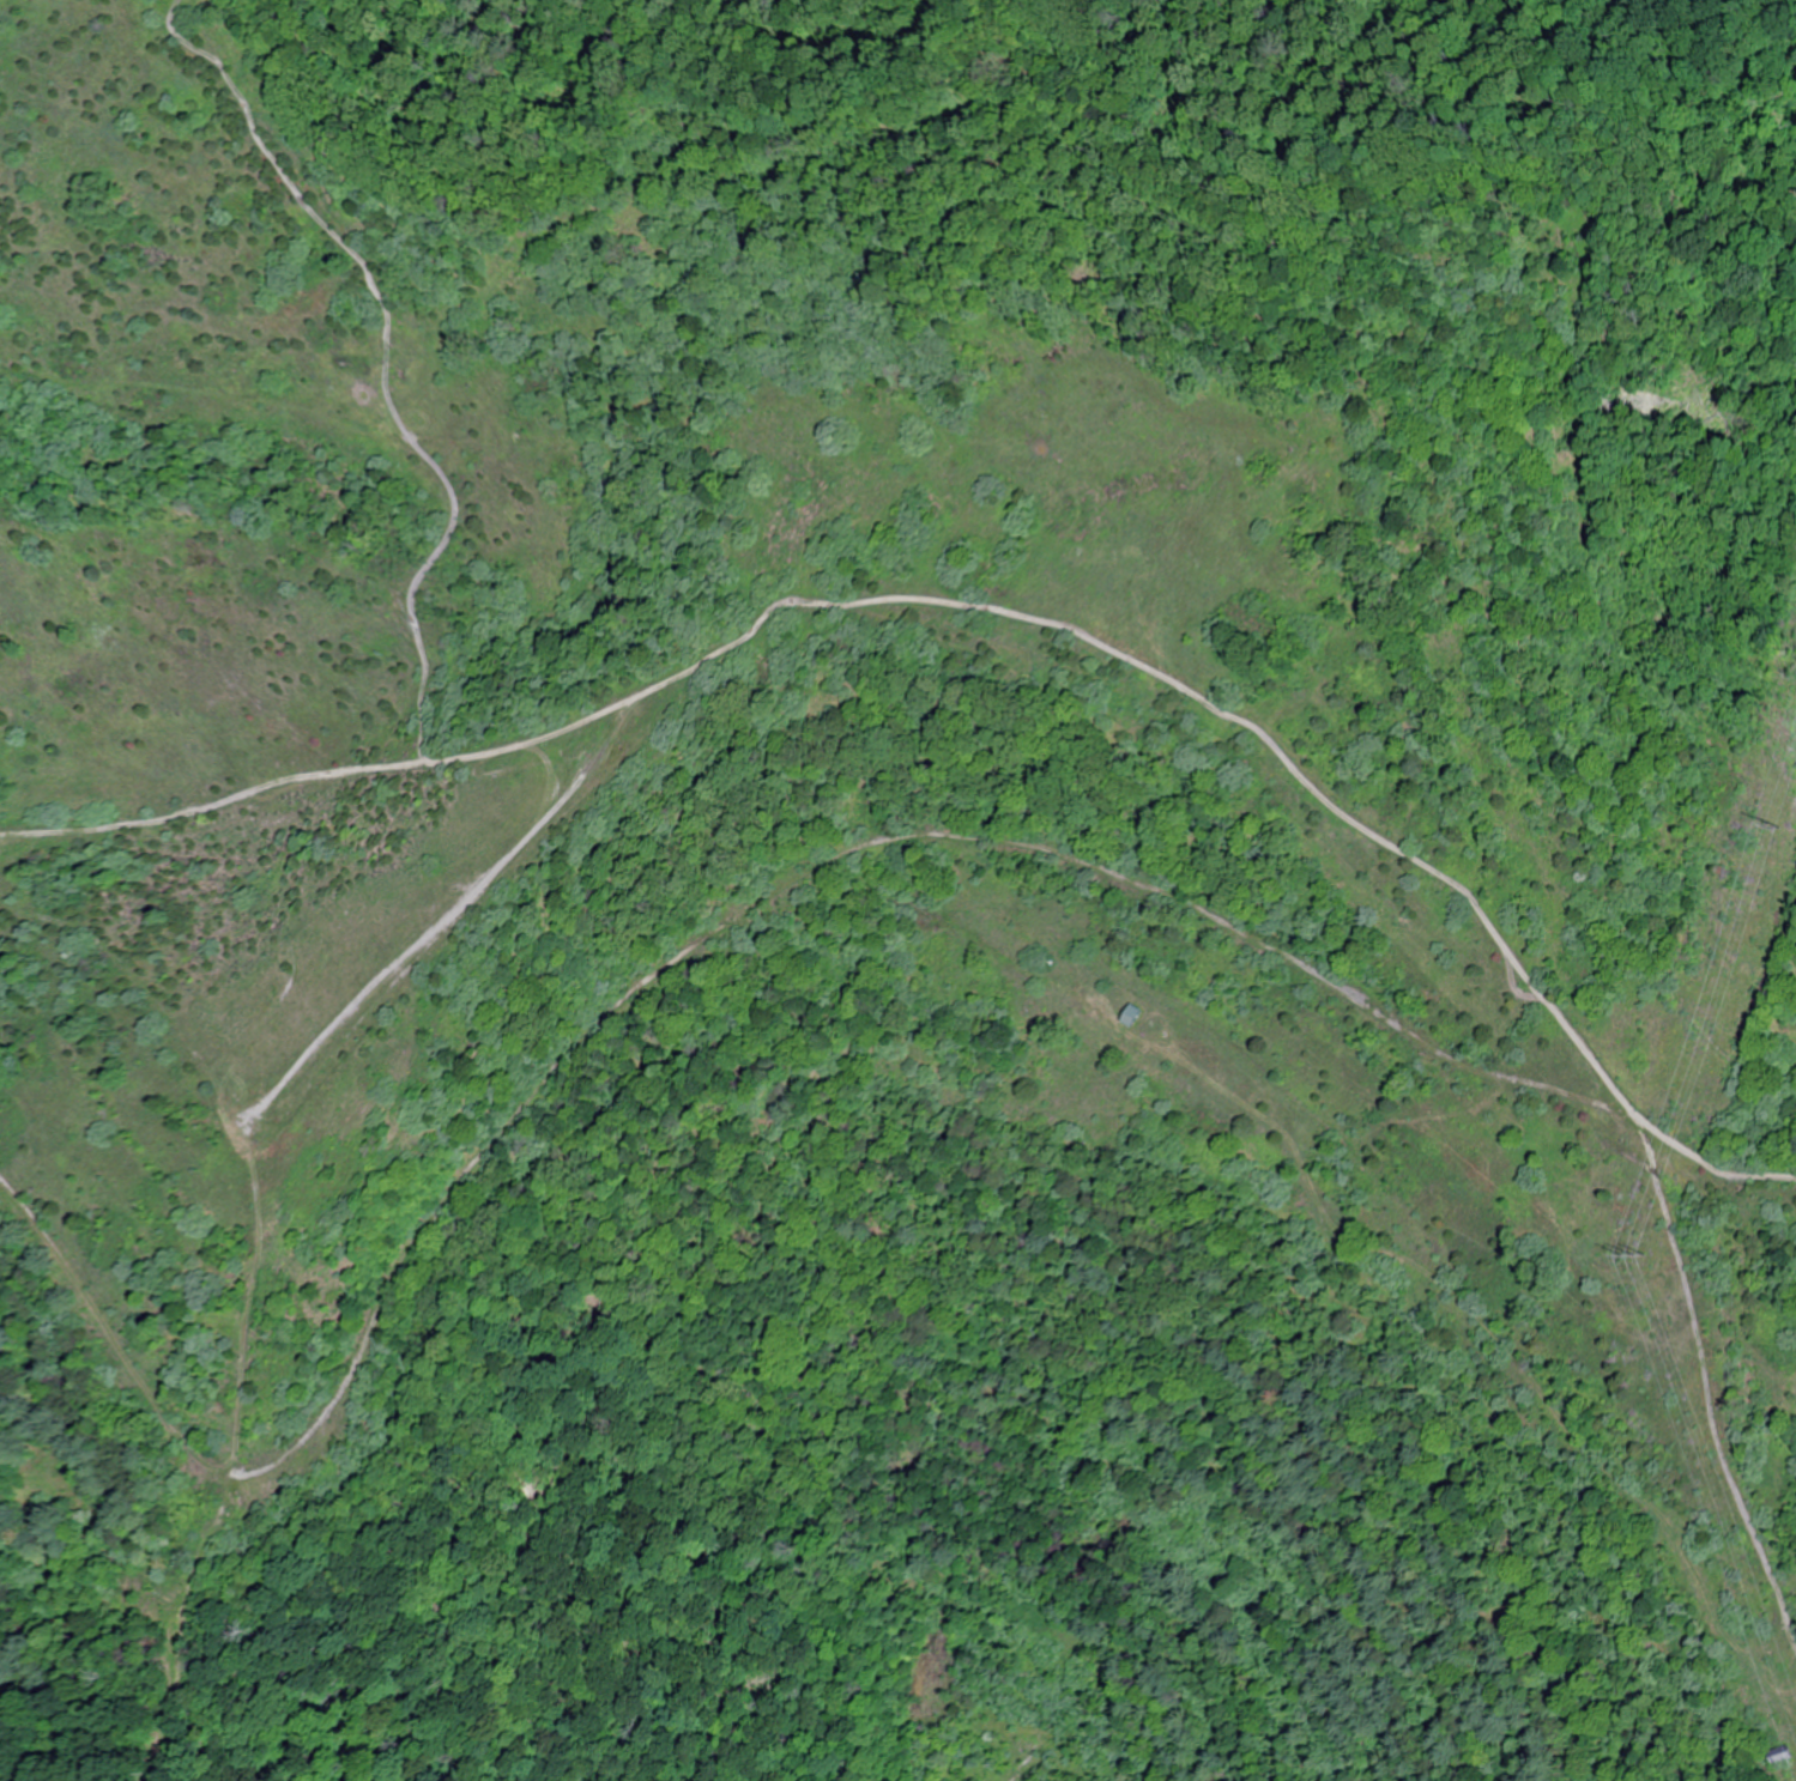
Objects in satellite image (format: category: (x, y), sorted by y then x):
power tower: (1777, 824)
building: (1129, 1016)
power tower: (1631, 1250)
building: (1784, 1759)

